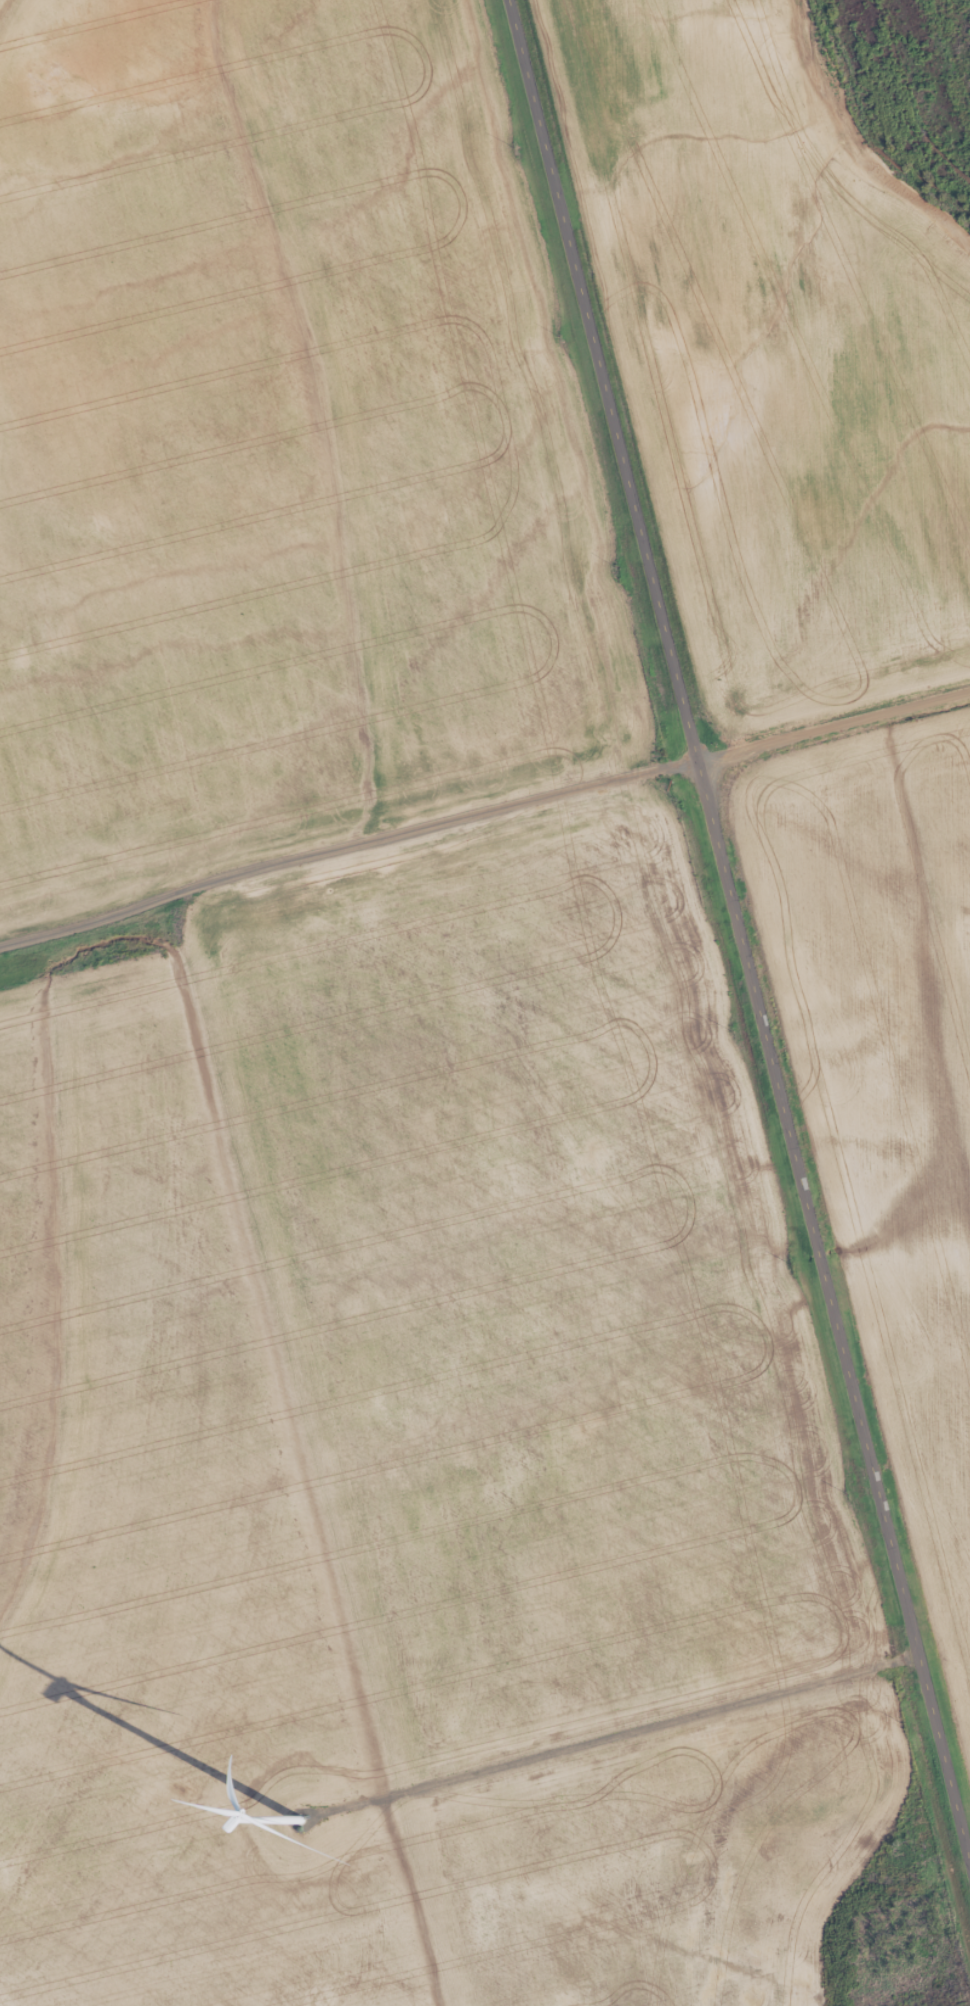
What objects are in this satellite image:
road: (833, 721)
road: (348, 841)
road: (738, 928)
wind turbine: (295, 1822)

